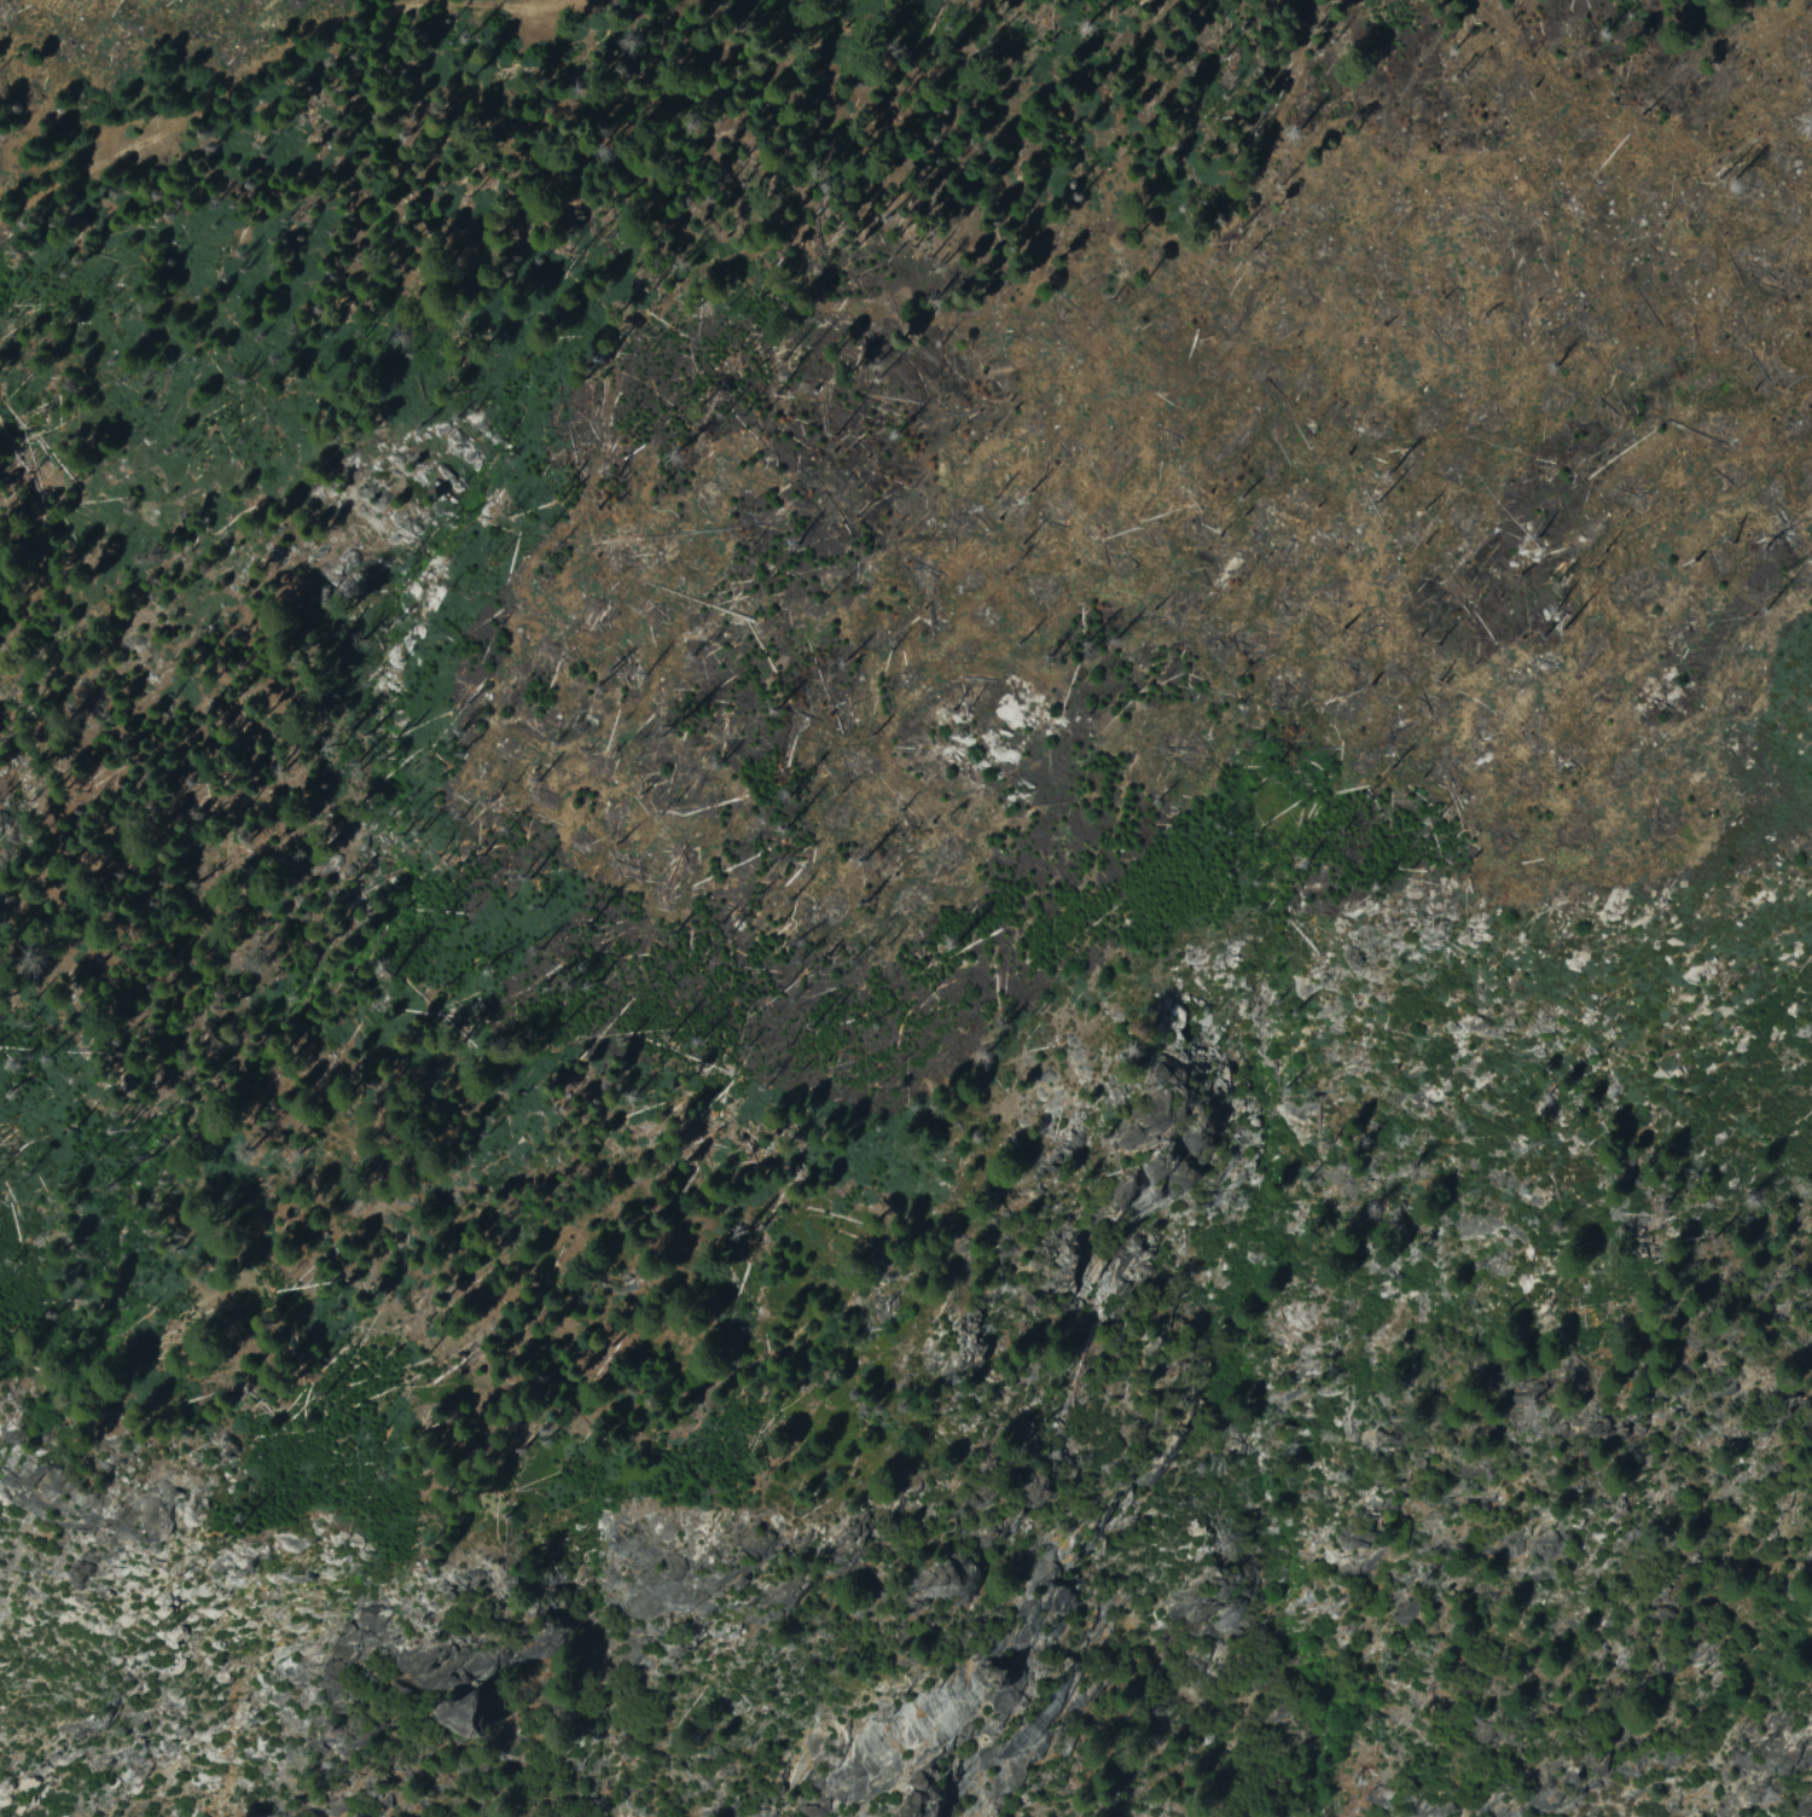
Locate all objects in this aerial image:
road: (275, 72)

